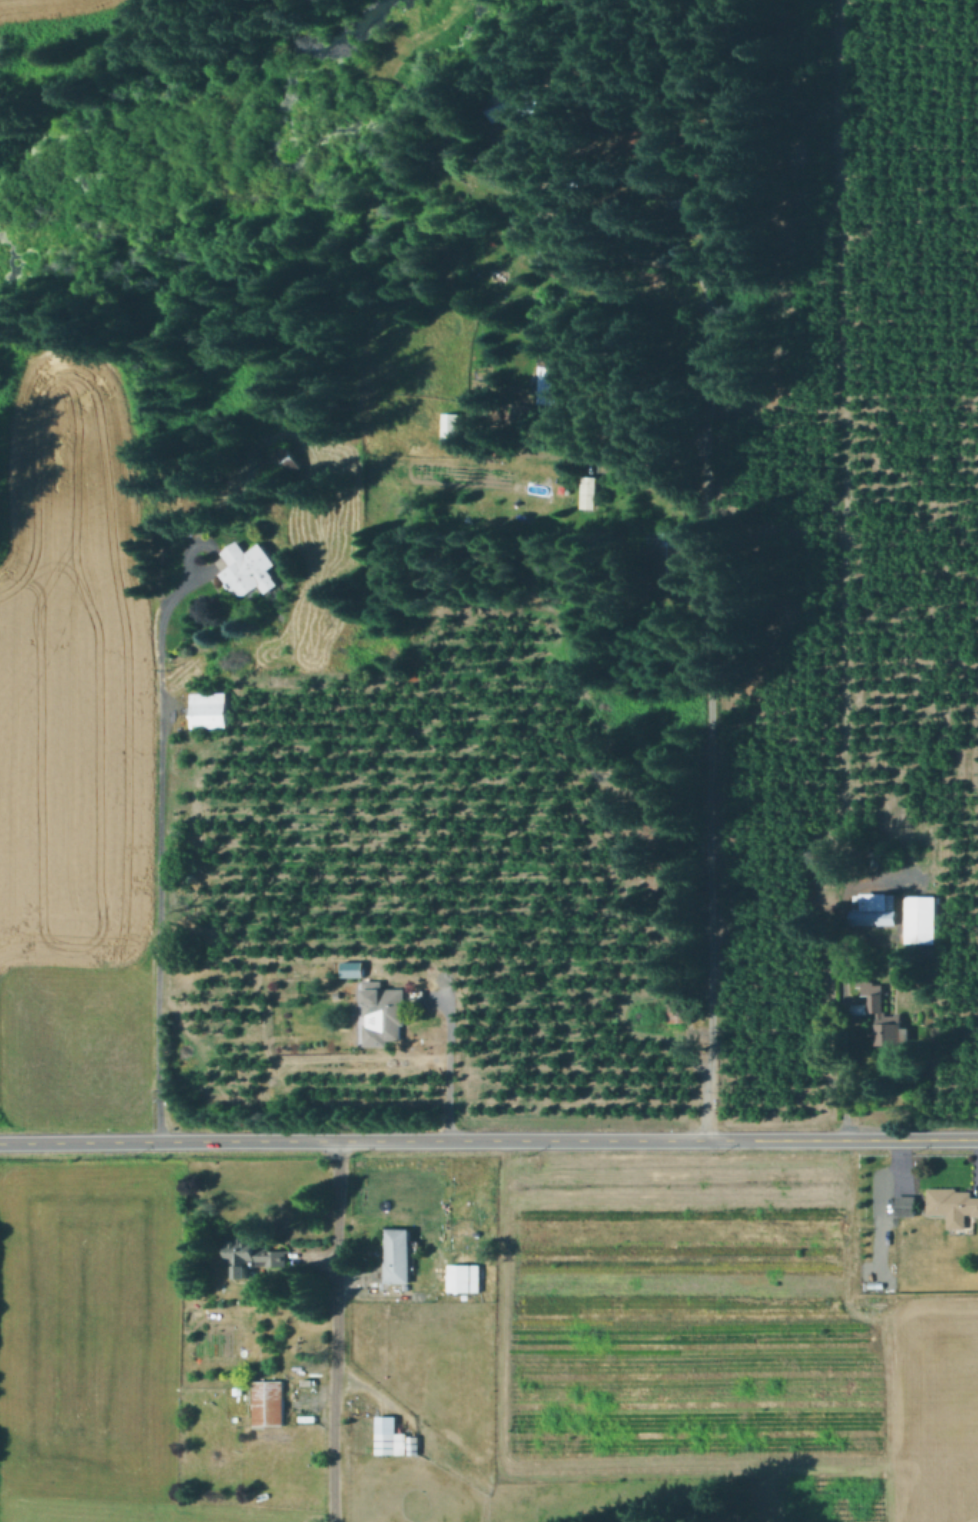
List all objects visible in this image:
crop: (71, 18)
building: (525, 103)
building: (651, 141)
building: (679, 189)
road: (599, 227)
building: (557, 255)
building: (558, 383)
building: (453, 428)
building: (282, 463)
building: (592, 490)
road: (846, 501)
building: (669, 558)
building: (250, 569)
road: (709, 642)
crop: (71, 678)
building: (210, 710)
road: (159, 849)
building: (877, 908)
building: (923, 919)
building: (357, 968)
building: (862, 1008)
building: (384, 1013)
building: (681, 1014)
building: (887, 1016)
crop: (76, 1048)
road: (448, 1051)
road: (843, 1066)
road: (489, 1140)
road: (879, 1203)
building: (908, 1205)
building: (952, 1208)
building: (249, 1254)
building: (400, 1255)
building: (465, 1287)
road: (392, 1292)
road: (338, 1331)
crop: (480, 1334)
building: (270, 1403)
building: (390, 1435)

